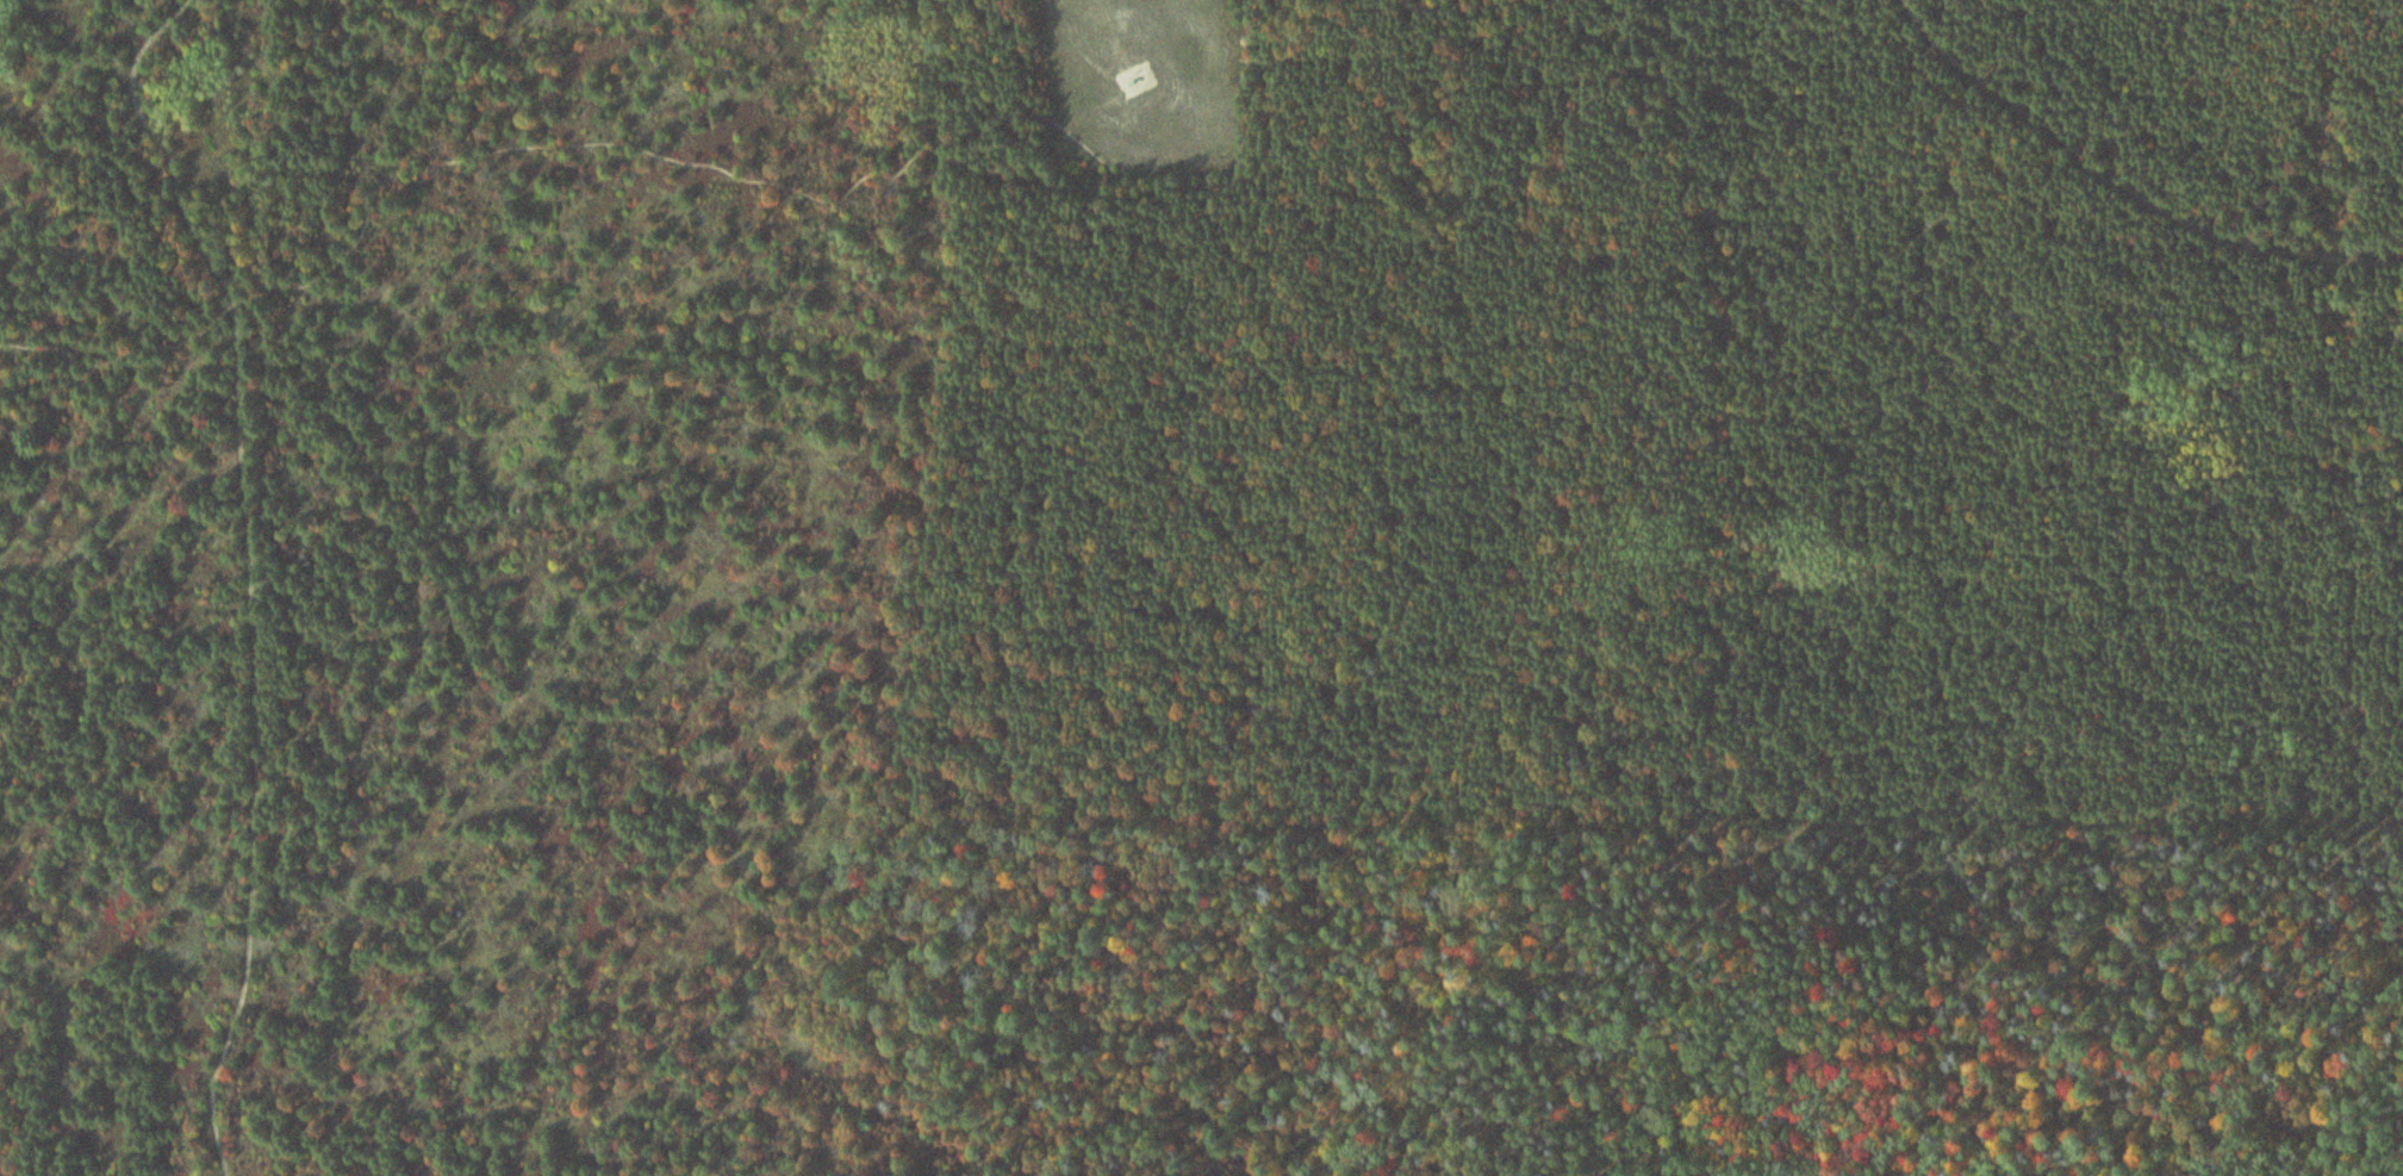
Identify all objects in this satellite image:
road: (1085, 33)
petroleum well: (1152, 75)
road: (907, 162)
road: (2127, 182)
road: (244, 567)

